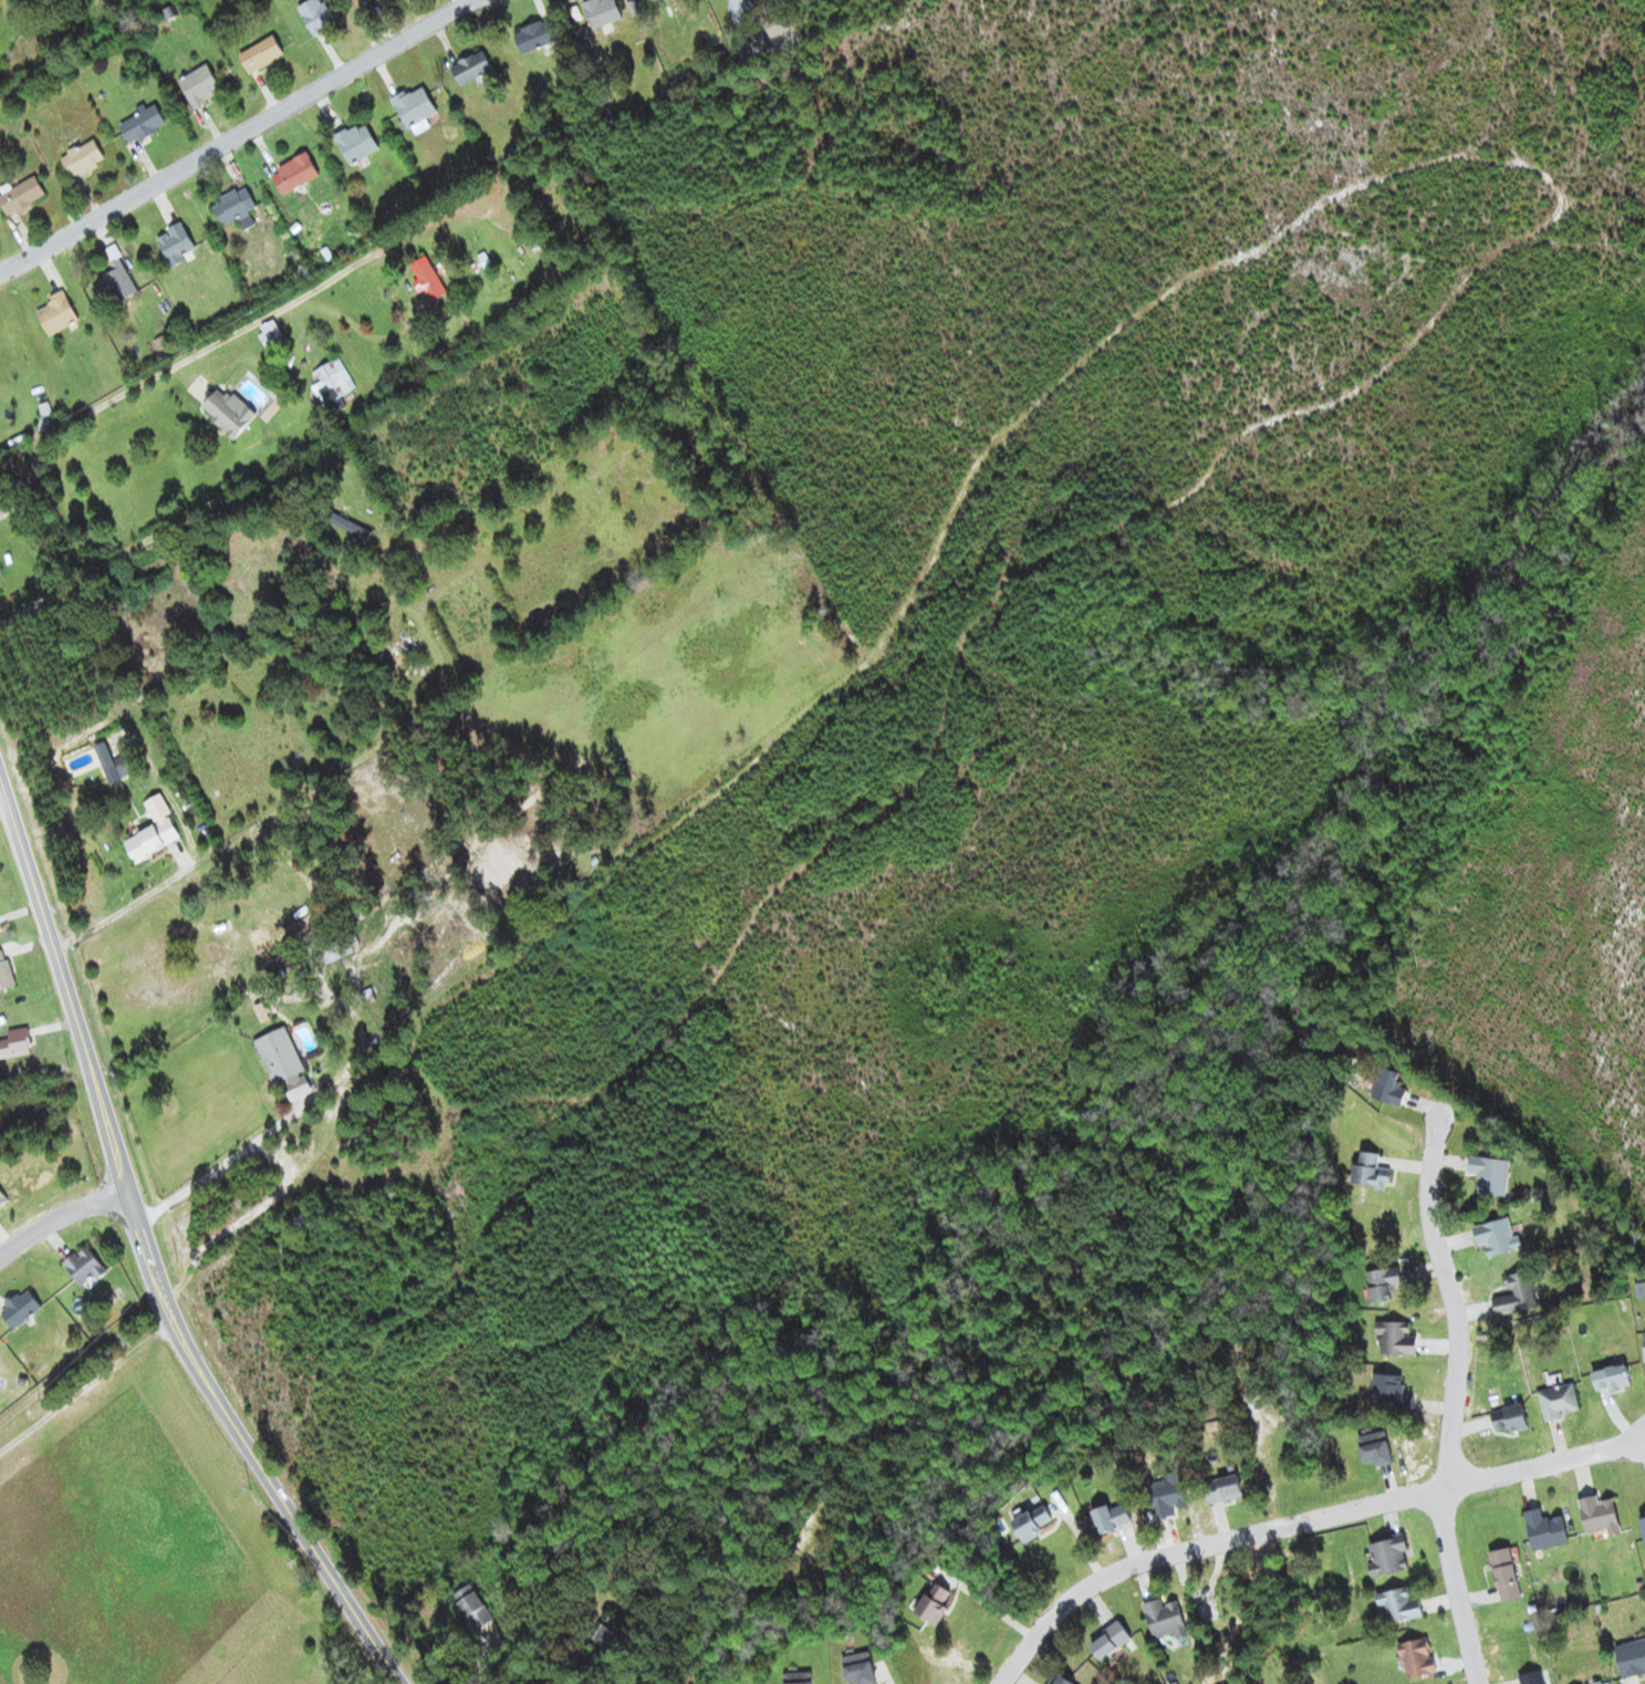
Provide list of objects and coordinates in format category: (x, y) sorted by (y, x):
building: (648, 0)
building: (368, 1)
building: (601, 12)
building: (314, 17)
building: (774, 25)
building: (535, 37)
building: (259, 55)
building: (470, 69)
building: (198, 87)
building: (414, 107)
building: (140, 126)
road: (239, 135)
building: (355, 144)
building: (81, 159)
building: (292, 175)
building: (20, 197)
building: (233, 209)
building: (175, 245)
building: (427, 279)
building: (117, 281)
building: (55, 314)
road: (175, 366)
building: (331, 383)
building: (229, 419)
building: (346, 527)
building: (446, 536)
building: (410, 574)
building: (396, 659)
road: (327, 723)
building: (116, 772)
building: (153, 832)
building: (336, 950)
building: (229, 965)
building: (3, 974)
building: (14, 1044)
building: (278, 1057)
building: (1387, 1088)
road: (221, 1164)
building: (1370, 1172)
building: (1488, 1175)
road: (61, 1217)
building: (1496, 1237)
road: (152, 1257)
building: (83, 1268)
building: (1382, 1285)
building: (1514, 1296)
building: (19, 1309)
building: (1396, 1339)
building: (1644, 1350)
building: (1610, 1379)
building: (1389, 1395)
road: (1455, 1402)
building: (1556, 1403)
building: (1510, 1421)
building: (1221, 1490)
building: (1166, 1496)
road: (1298, 1514)
building: (1597, 1516)
building: (1108, 1521)
building: (1032, 1524)
building: (1643, 1527)
building: (1544, 1530)
building: (1387, 1557)
building: (1505, 1574)
building: (933, 1603)
building: (1399, 1604)
building: (470, 1608)
building: (1164, 1619)
building: (604, 1641)
building: (1110, 1642)
road: (493, 1647)
building: (1630, 1656)
building: (1417, 1661)
building: (1535, 1676)
building: (1060, 1680)
building: (1599, 1682)

